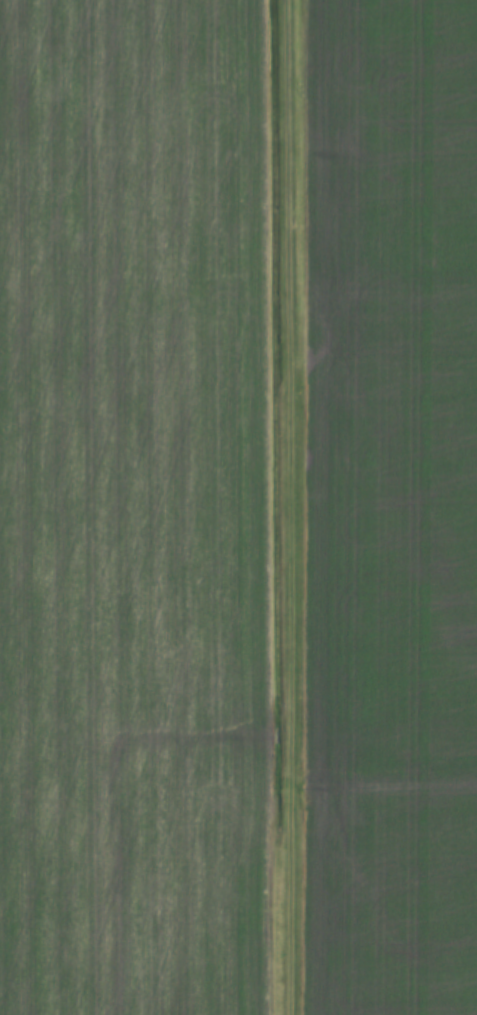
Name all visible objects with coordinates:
crop: (394, 506)
road: (290, 507)
crop: (135, 509)

